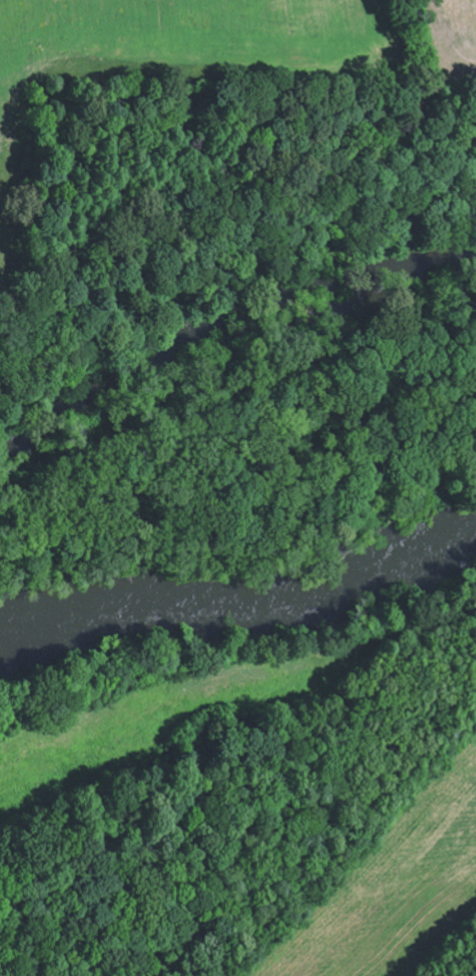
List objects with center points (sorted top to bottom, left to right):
river: (239, 589)

